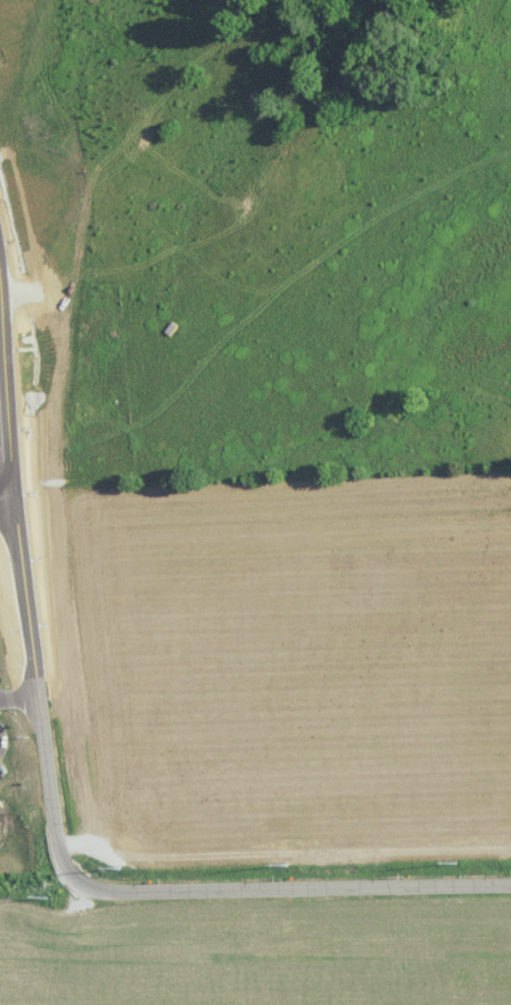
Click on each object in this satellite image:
road: (5, 398)
road: (6, 494)
road: (18, 692)
road: (96, 886)

